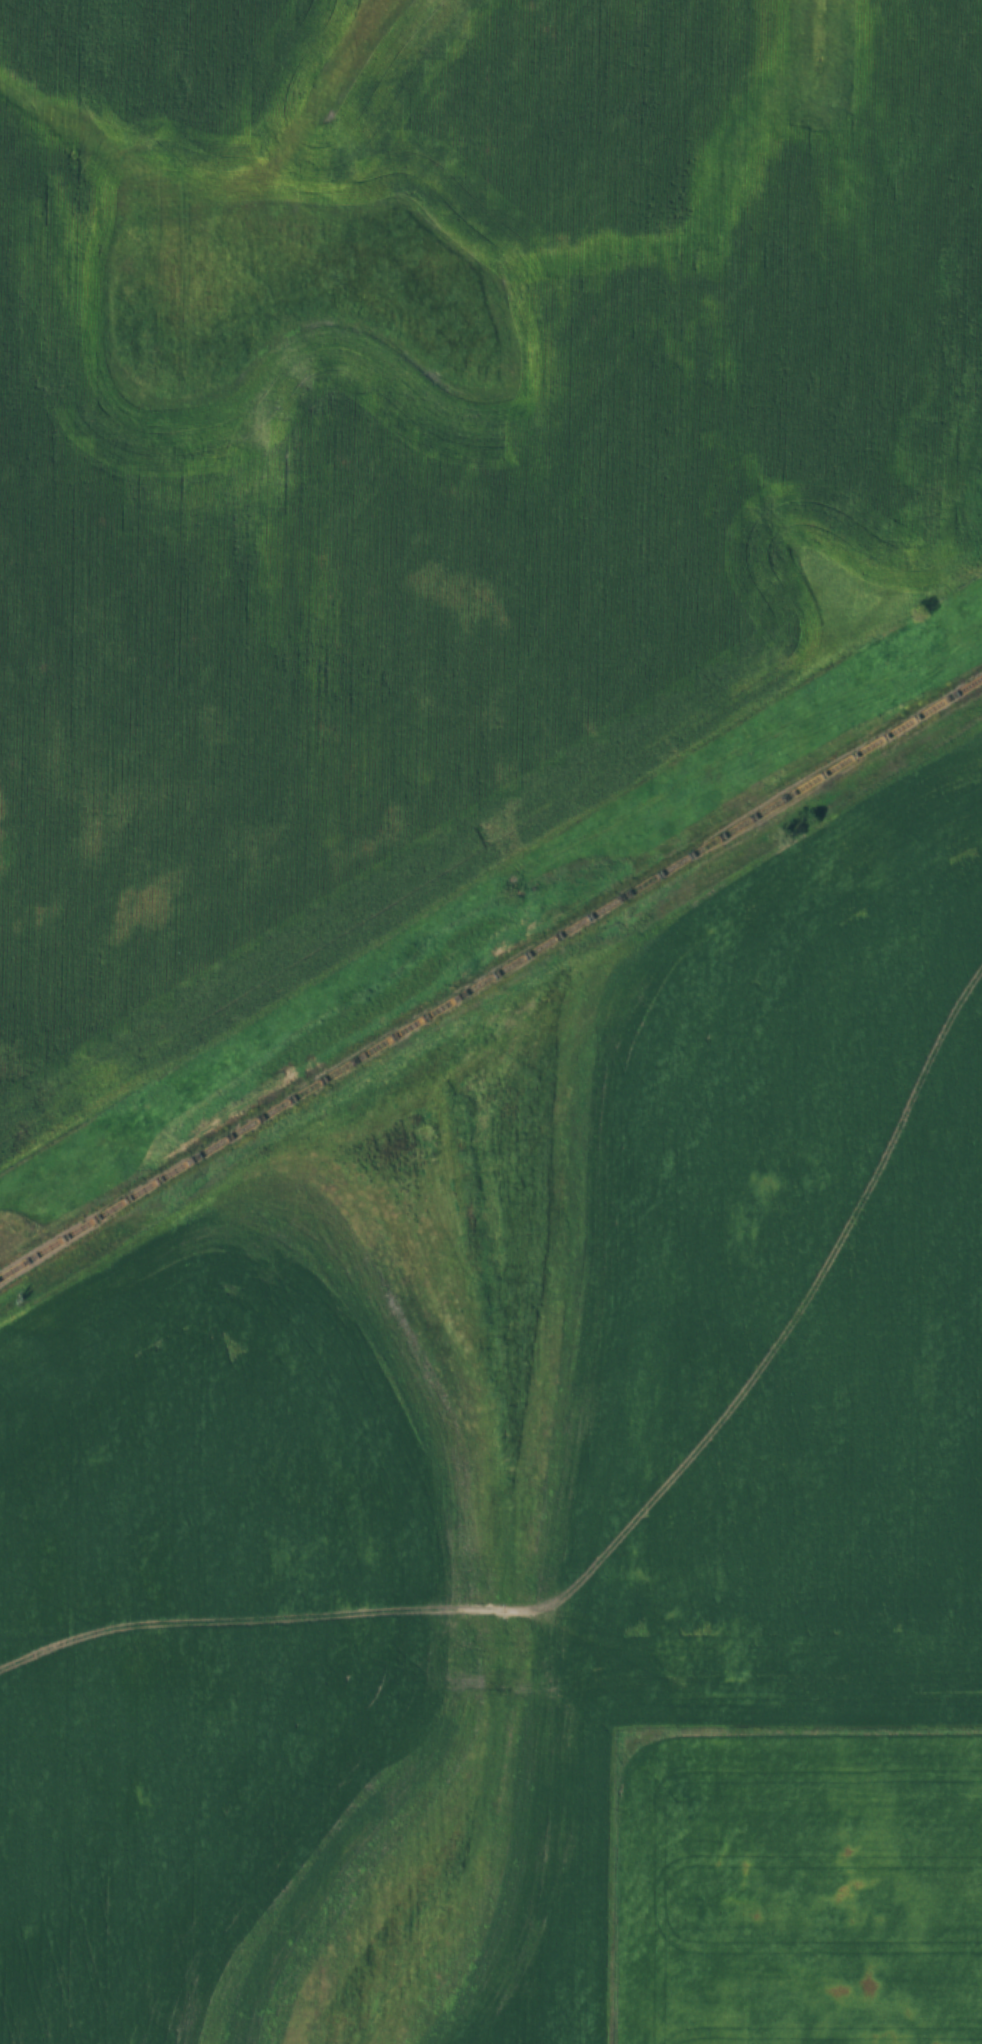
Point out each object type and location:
railway: (491, 982)

